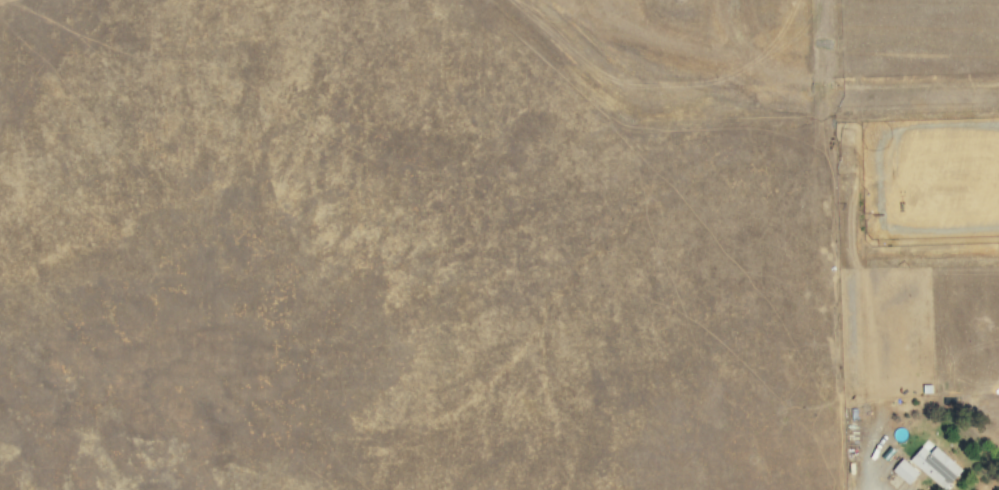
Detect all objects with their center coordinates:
road: (854, 399)
building: (933, 466)
building: (902, 471)

